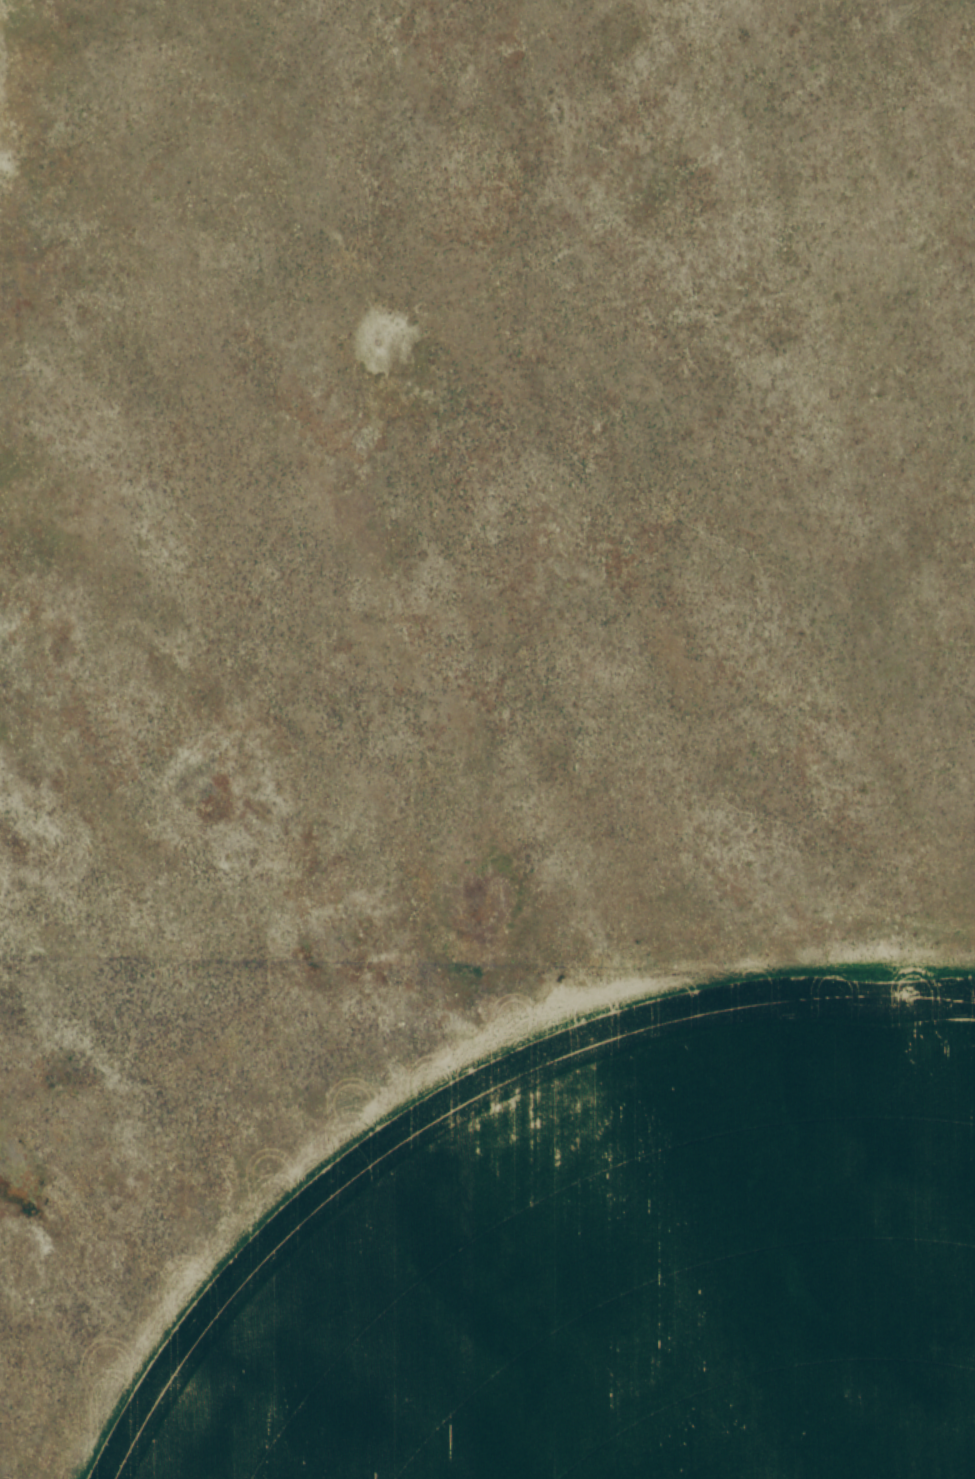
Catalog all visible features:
crop: (614, 1264)

